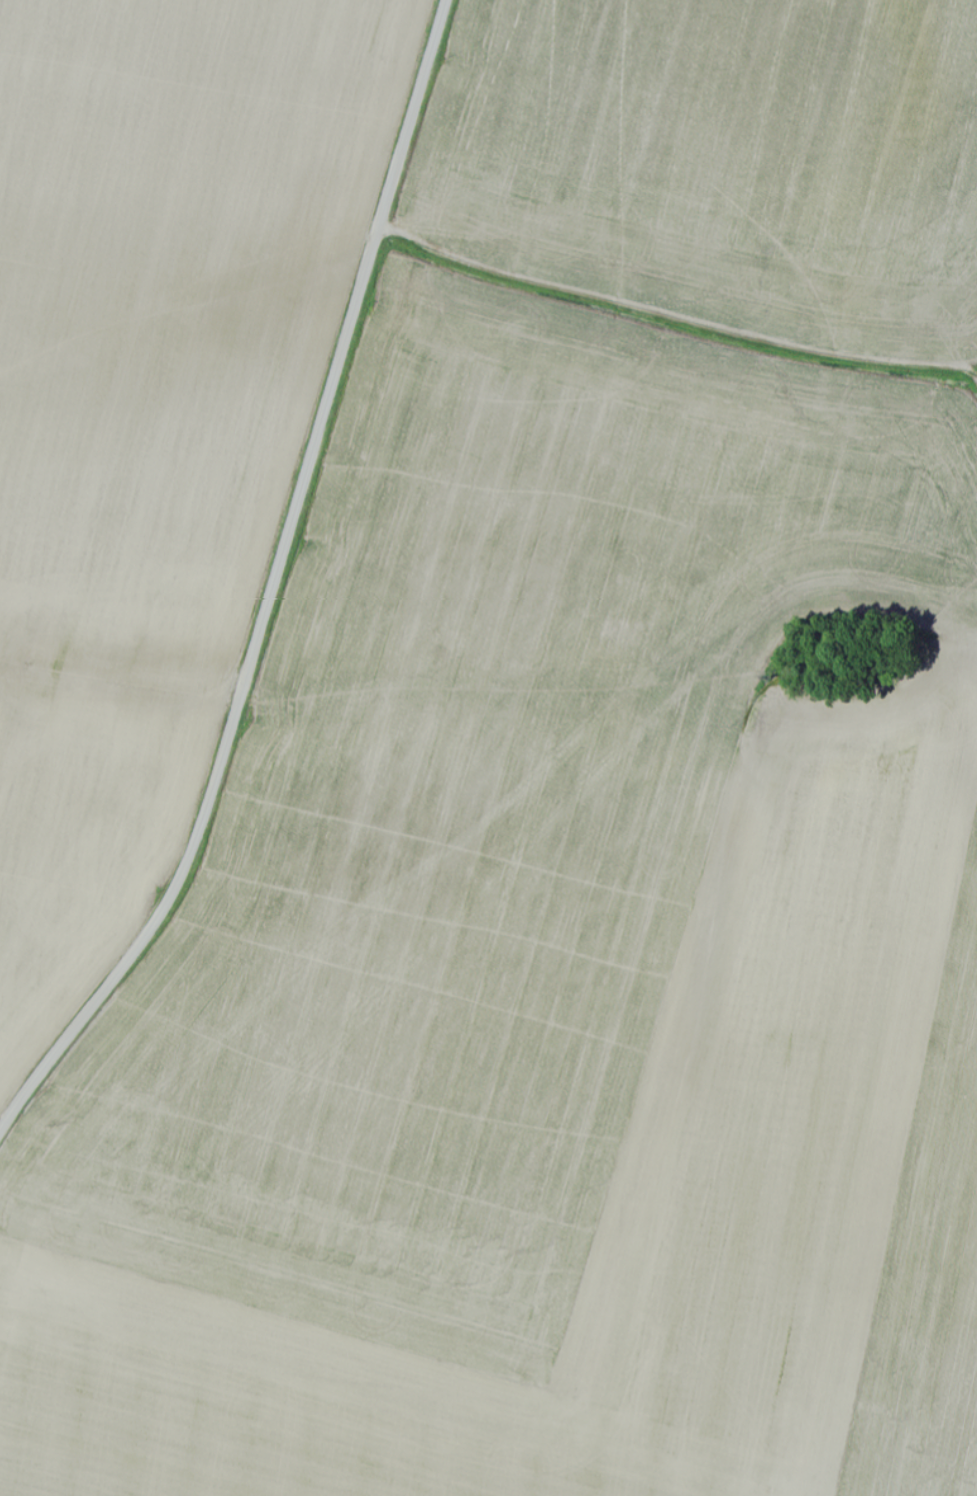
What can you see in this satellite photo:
road: (273, 591)

